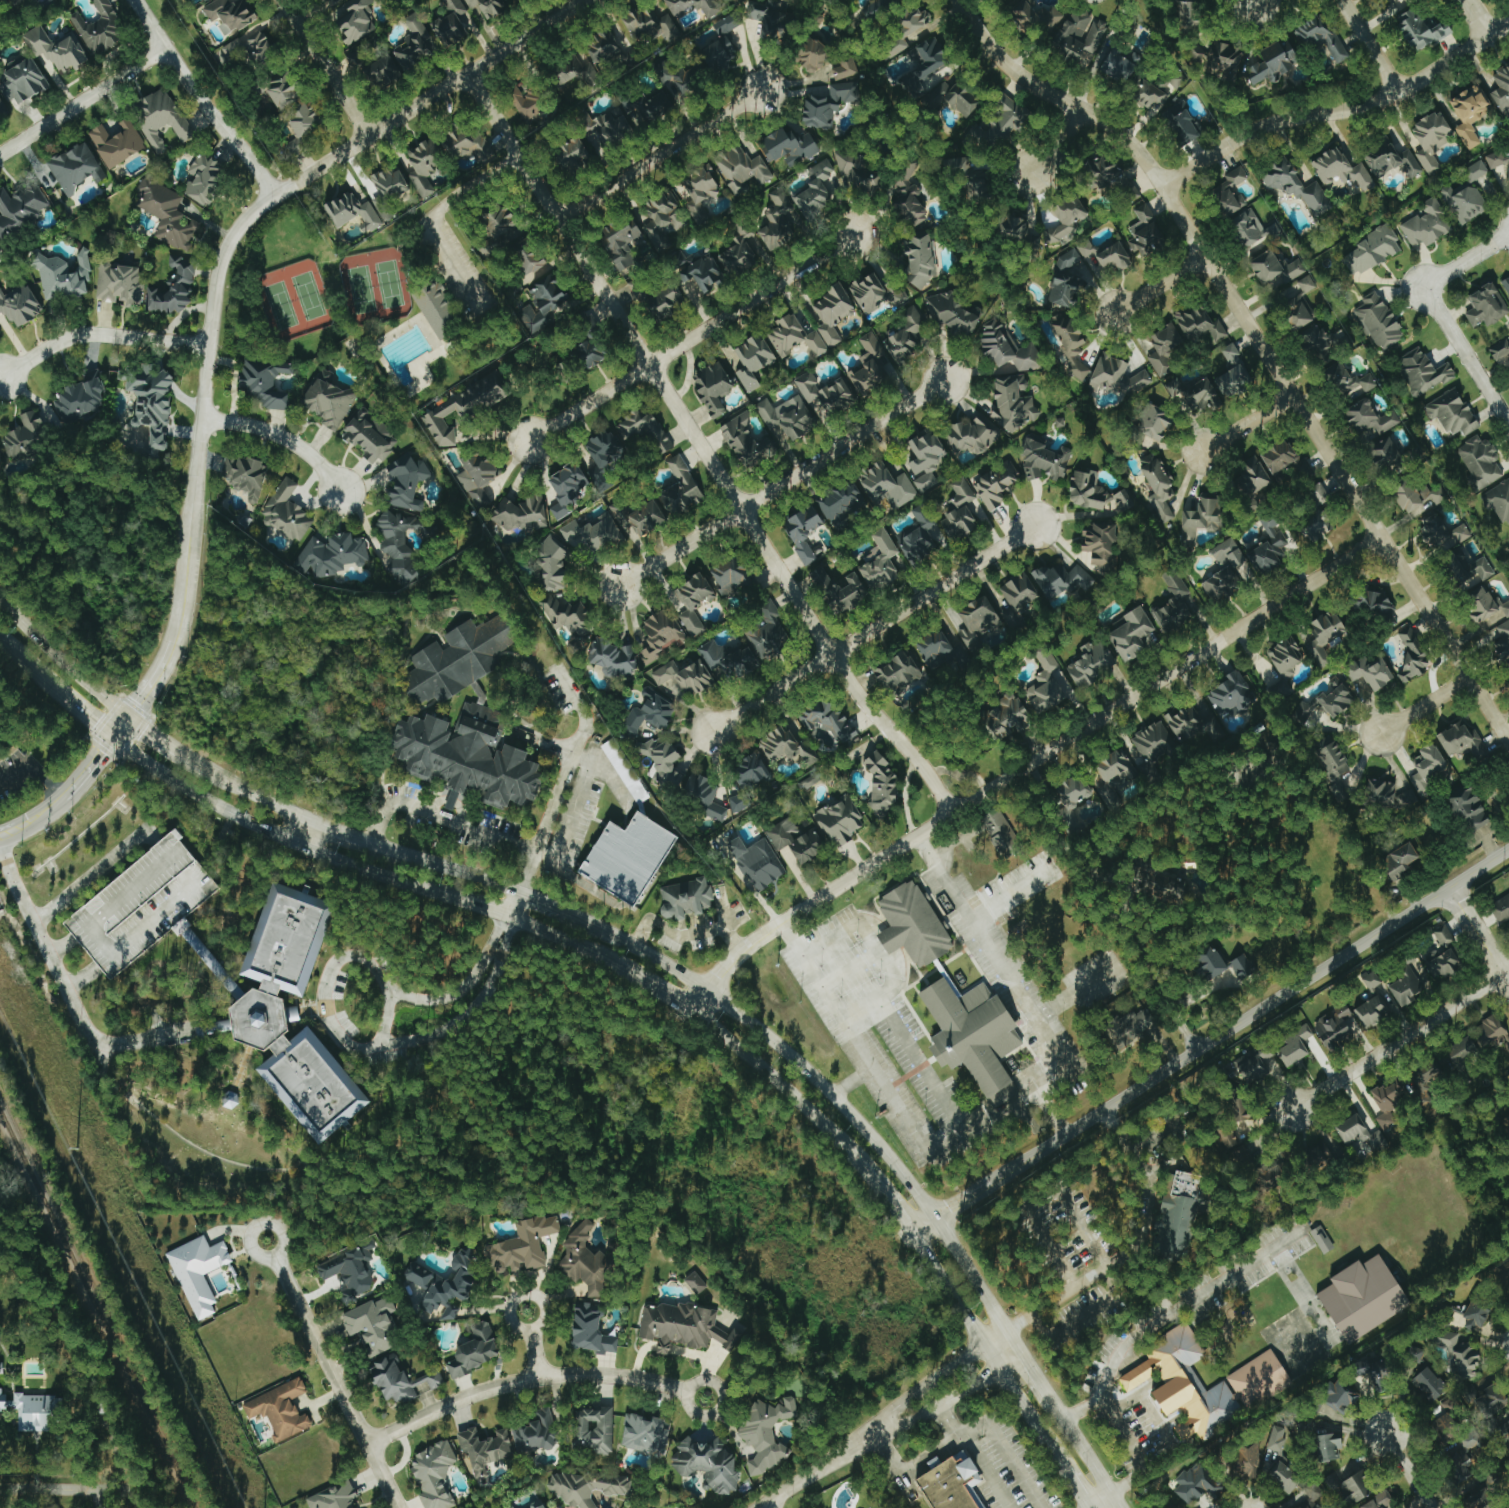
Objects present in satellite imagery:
building: (324, 0)
building: (334, 0)
building: (341, 0)
building: (197, 1)
building: (1399, 1)
building: (7, 2)
road: (1257, 2)
building: (488, 6)
building: (882, 7)
building: (707, 8)
building: (229, 14)
building: (1036, 15)
road: (1477, 18)
building: (915, 19)
building: (353, 20)
building: (638, 21)
building: (773, 21)
building: (451, 23)
building: (99, 28)
building: (1420, 29)
building: (1080, 33)
building: (1321, 37)
building: (411, 43)
building: (721, 43)
building: (901, 44)
building: (602, 45)
road: (1372, 46)
building: (55, 48)
building: (249, 49)
building: (813, 55)
building: (1219, 58)
building: (356, 61)
building: (1275, 61)
building: (1118, 66)
road: (323, 68)
building: (844, 69)
building: (384, 70)
building: (567, 71)
building: (688, 78)
building: (21, 80)
building: (282, 87)
building: (1151, 95)
building: (955, 96)
road: (428, 97)
road: (82, 100)
road: (200, 100)
building: (529, 103)
building: (828, 104)
building: (1, 108)
road: (1337, 110)
building: (1470, 113)
building: (160, 117)
building: (303, 121)
building: (1182, 122)
building: (1000, 124)
building: (609, 128)
building: (1430, 139)
building: (116, 143)
building: (466, 144)
road: (1060, 144)
building: (788, 147)
building: (572, 151)
road: (660, 152)
building: (1389, 159)
building: (1497, 160)
building: (423, 165)
building: (73, 167)
building: (740, 169)
building: (857, 170)
building: (1340, 170)
building: (1473, 171)
building: (1108, 175)
building: (970, 176)
building: (204, 179)
road: (476, 180)
building: (389, 183)
building: (1296, 186)
building: (816, 188)
building: (1230, 189)
building: (699, 191)
building: (907, 197)
building: (1463, 202)
building: (20, 208)
building: (351, 212)
building: (166, 213)
building: (662, 217)
building: (1065, 220)
building: (777, 222)
building: (502, 223)
building: (1426, 225)
building: (1014, 227)
building: (1251, 228)
building: (1146, 230)
building: (622, 240)
building: (1372, 250)
building: (1106, 253)
building: (738, 254)
building: (528, 257)
building: (920, 258)
parking lot: (452, 266)
building: (1275, 268)
building: (706, 273)
building: (63, 277)
building: (1064, 282)
park: (389, 283)
road: (1161, 284)
building: (1505, 284)
building: (173, 288)
park: (361, 288)
building: (639, 291)
park: (380, 292)
building: (875, 293)
park: (308, 294)
building: (436, 299)
building: (666, 301)
building: (1296, 302)
park: (280, 304)
building: (19, 305)
building: (1486, 305)
building: (831, 313)
road: (1437, 313)
building: (951, 316)
building: (1378, 320)
building: (1199, 324)
road: (99, 333)
building: (794, 335)
building: (905, 336)
road: (692, 337)
road: (1261, 343)
building: (1320, 343)
building: (1070, 345)
building: (591, 347)
building: (1006, 348)
building: (1499, 349)
building: (1163, 351)
building: (1230, 354)
building: (752, 361)
building: (870, 367)
building: (1422, 371)
building: (1233, 380)
building: (265, 382)
building: (1348, 382)
building: (713, 387)
building: (1193, 393)
building: (80, 397)
building: (327, 399)
building: (150, 402)
building: (1012, 402)
road: (203, 406)
building: (463, 407)
building: (1451, 412)
building: (787, 418)
building: (1370, 419)
road: (1248, 422)
building: (1155, 423)
building: (644, 428)
road: (280, 435)
building: (970, 435)
building: (26, 436)
building: (368, 436)
building: (745, 441)
road: (703, 447)
building: (1388, 457)
building: (604, 458)
building: (925, 458)
building: (1044, 460)
building: (1286, 460)
building: (1479, 462)
building: (1254, 473)
building: (243, 475)
building: (476, 477)
building: (406, 482)
road: (784, 483)
building: (886, 484)
building: (994, 486)
building: (1157, 486)
building: (566, 488)
building: (680, 488)
building: (1086, 490)
building: (1315, 495)
building: (1418, 498)
building: (1121, 501)
building: (1497, 502)
building: (839, 505)
building: (959, 510)
building: (285, 514)
building: (520, 514)
building: (638, 517)
building: (1201, 518)
building: (1317, 525)
building: (803, 532)
building: (1441, 532)
building: (592, 535)
building: (917, 537)
building: (403, 543)
building: (1269, 546)
building: (1101, 547)
building: (1227, 554)
building: (330, 555)
building: (880, 563)
building: (554, 566)
building: (1468, 571)
building: (730, 575)
building: (1063, 580)
building: (1222, 585)
building: (840, 591)
building: (1017, 597)
building: (690, 602)
building: (1373, 603)
building: (1174, 604)
building: (1486, 606)
building: (567, 615)
building: (977, 623)
road: (874, 627)
building: (1328, 629)
building: (768, 632)
building: (659, 634)
building: (1132, 634)
road: (5, 642)
building: (1503, 643)
building: (941, 651)
building: (1317, 654)
building: (1285, 656)
building: (1412, 656)
building: (456, 657)
building: (612, 657)
road: (61, 659)
building: (728, 659)
building: (1090, 664)
road: (30, 666)
building: (1370, 673)
building: (684, 676)
road: (154, 677)
building: (1045, 684)
building: (1230, 695)
building: (1334, 698)
traffic signals: (137, 701)
road: (1425, 705)
road: (80, 710)
building: (649, 712)
building: (1007, 718)
building: (827, 721)
traffic signals: (95, 723)
road: (119, 724)
building: (1193, 724)
traffic signals: (147, 728)
park: (32, 739)
building: (1462, 741)
building: (1152, 743)
building: (788, 745)
road: (175, 746)
traffic signals: (101, 751)
building: (469, 753)
road: (1029, 762)
building: (662, 763)
road: (33, 766)
building: (1333, 766)
parking lot: (13, 768)
building: (751, 770)
building: (1427, 770)
road: (87, 771)
building: (1114, 778)
road: (562, 779)
building: (881, 784)
building: (702, 795)
building: (1390, 796)
building: (1072, 798)
building: (737, 803)
road: (574, 805)
building: (1469, 808)
road: (294, 814)
road: (441, 814)
building: (839, 821)
road: (30, 822)
road: (303, 831)
building: (1001, 834)
road: (276, 835)
building: (795, 840)
road: (545, 853)
building: (628, 858)
building: (1399, 860)
building: (757, 862)
road: (90, 875)
building: (1164, 883)
road: (1094, 885)
building: (686, 892)
road: (1002, 893)
parking lot: (139, 900)
road: (511, 902)
road: (482, 903)
building: (1501, 909)
building: (912, 925)
road: (686, 927)
building: (1443, 936)
road: (1477, 940)
road: (622, 955)
building: (1209, 962)
building: (1444, 962)
road: (367, 964)
building: (1242, 968)
road: (464, 979)
building: (1370, 979)
road: (1010, 981)
road: (1157, 985)
road: (66, 987)
building: (1405, 990)
road: (1070, 992)
road: (469, 1004)
building: (293, 1011)
building: (1371, 1013)
road: (837, 1014)
road: (753, 1026)
building: (1131, 1026)
building: (1334, 1027)
building: (971, 1029)
building: (1491, 1032)
road: (1212, 1039)
road: (1402, 1040)
building: (1294, 1047)
building: (1463, 1052)
road: (921, 1057)
building: (1257, 1065)
building: (1425, 1078)
building: (1387, 1104)
road: (827, 1106)
building: (1243, 1111)
road: (833, 1128)
building: (1359, 1136)
building: (1227, 1139)
power tower: (77, 1150)
building: (1272, 1179)
road: (1053, 1194)
building: (1178, 1209)
parking lot: (1061, 1228)
building: (1321, 1239)
building: (522, 1246)
road: (1135, 1246)
building: (588, 1259)
building: (349, 1269)
building: (197, 1272)
park: (1500, 1278)
building: (694, 1282)
building: (440, 1284)
building: (1361, 1294)
road: (1098, 1307)
railway: (98, 1308)
building: (1477, 1312)
road: (1164, 1315)
parking lot: (1086, 1317)
building: (372, 1324)
building: (682, 1326)
building: (589, 1329)
road: (532, 1344)
building: (474, 1350)
building: (1470, 1369)
building: (1380, 1373)
road: (332, 1374)
road: (937, 1376)
road: (531, 1379)
building: (399, 1380)
building: (1259, 1380)
road: (1040, 1381)
building: (1430, 1384)
road: (951, 1397)
building: (1341, 1397)
building: (279, 1410)
building: (34, 1411)
road: (948, 1424)
building: (592, 1430)
road: (1164, 1431)
building: (534, 1432)
building: (764, 1433)
building: (644, 1434)
building: (1323, 1437)
road: (1124, 1438)
building: (1275, 1438)
building: (1453, 1439)
road: (948, 1446)
building: (483, 1448)
road: (1083, 1448)
building: (1246, 1459)
building: (707, 1462)
parking lot: (1003, 1466)
road: (816, 1469)
road: (1406, 1472)
building: (433, 1474)
building: (1284, 1476)
road: (1073, 1480)
building: (948, 1482)
building: (1197, 1483)
building: (585, 1487)
building: (1355, 1487)
road: (61, 1492)
road: (134, 1497)
building: (333, 1497)
road: (1100, 1499)
road: (98, 1500)
road: (1115, 1500)
building: (1308, 1501)
building: (1487, 1501)
building: (1375, 1502)
building: (536, 1504)
road: (767, 1505)
building: (510, 1507)
building: (632, 1507)
road: (1088, 1507)
road: (1089, 1507)

